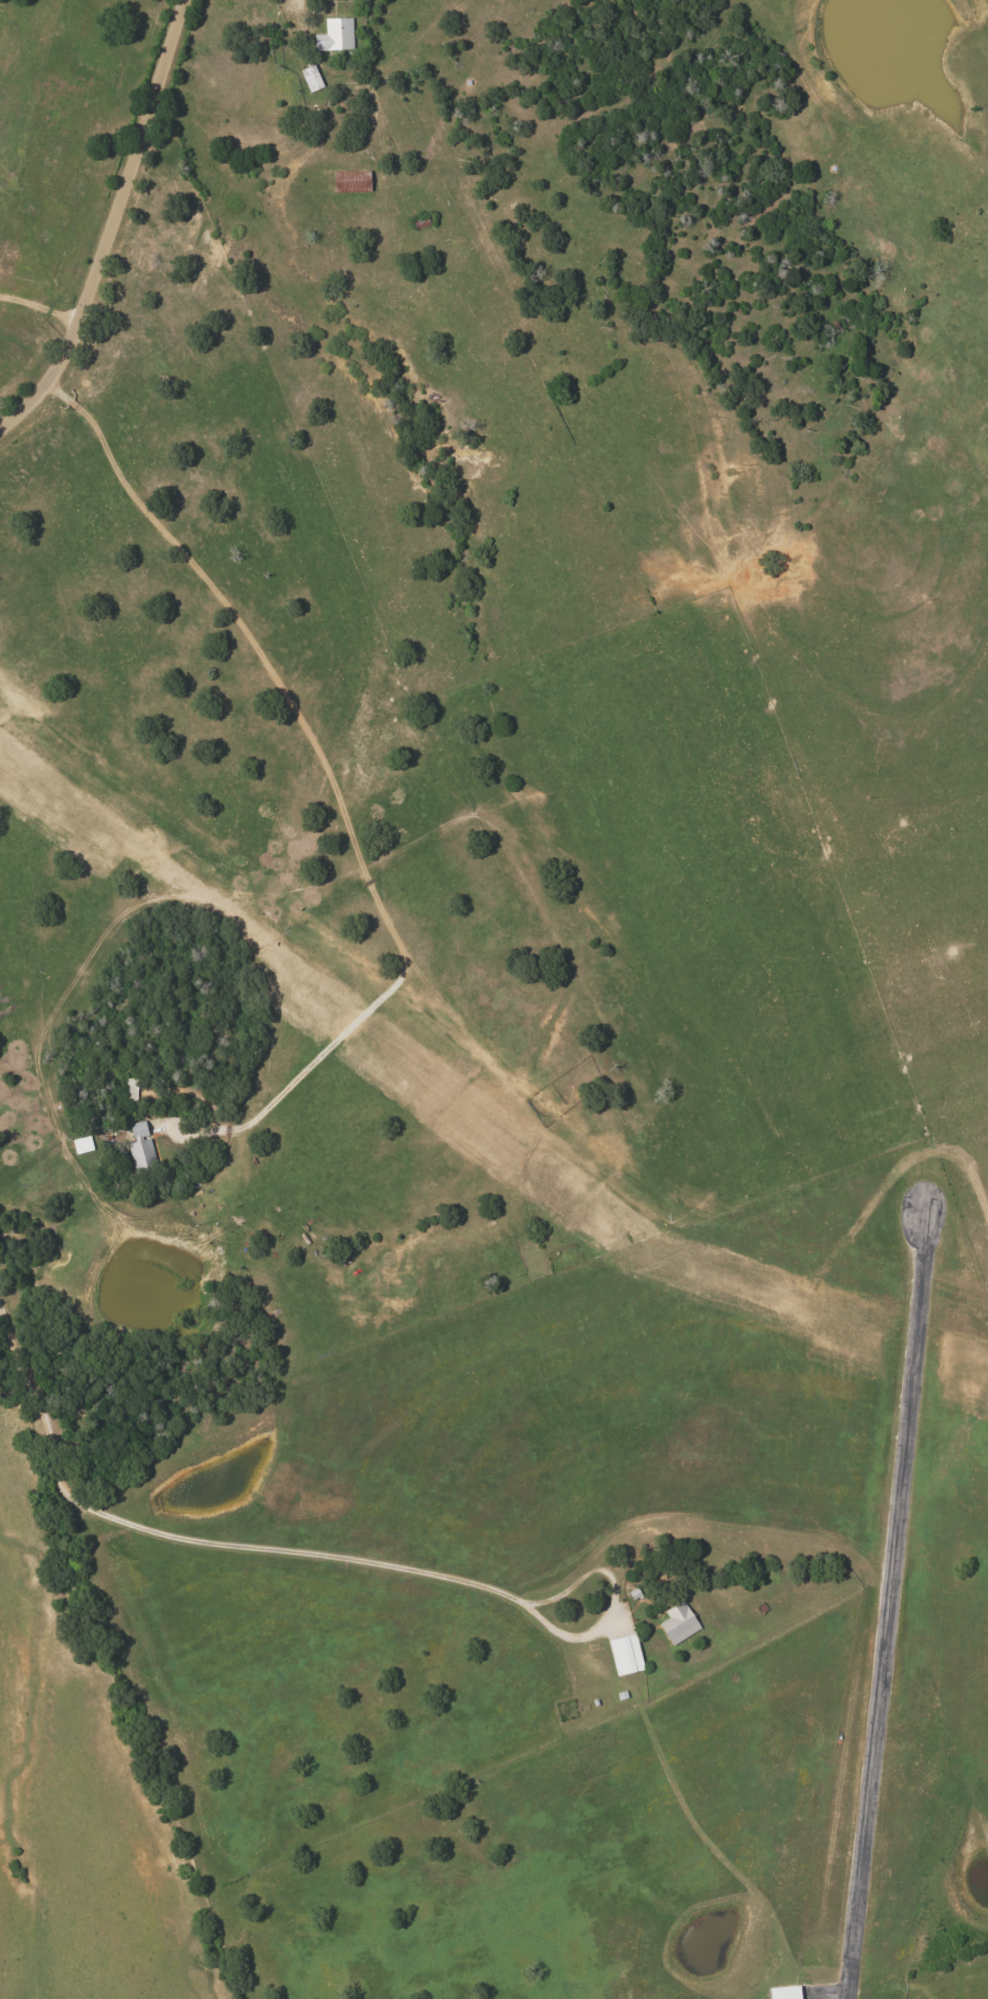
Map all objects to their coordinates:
road: (322, 35)
building: (336, 35)
building: (351, 182)
road: (110, 226)
road: (38, 312)
road: (330, 779)
building: (82, 1145)
building: (141, 1153)
road: (193, 1540)
road: (615, 1599)
airport runway: (886, 1617)
building: (678, 1623)
building: (625, 1655)
building: (785, 1992)
airport hangar: (784, 1993)

